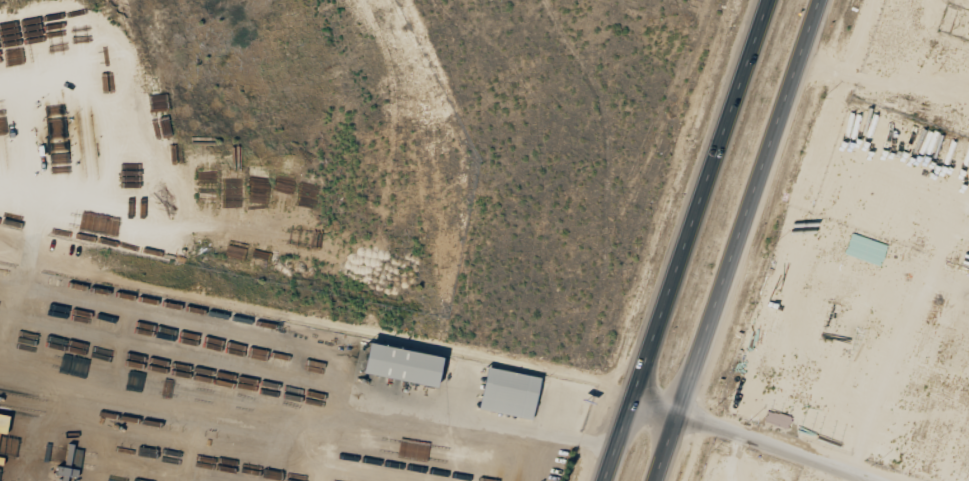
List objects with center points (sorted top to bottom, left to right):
road: (688, 240)
road: (733, 240)
building: (403, 364)
building: (510, 393)
road: (757, 438)

